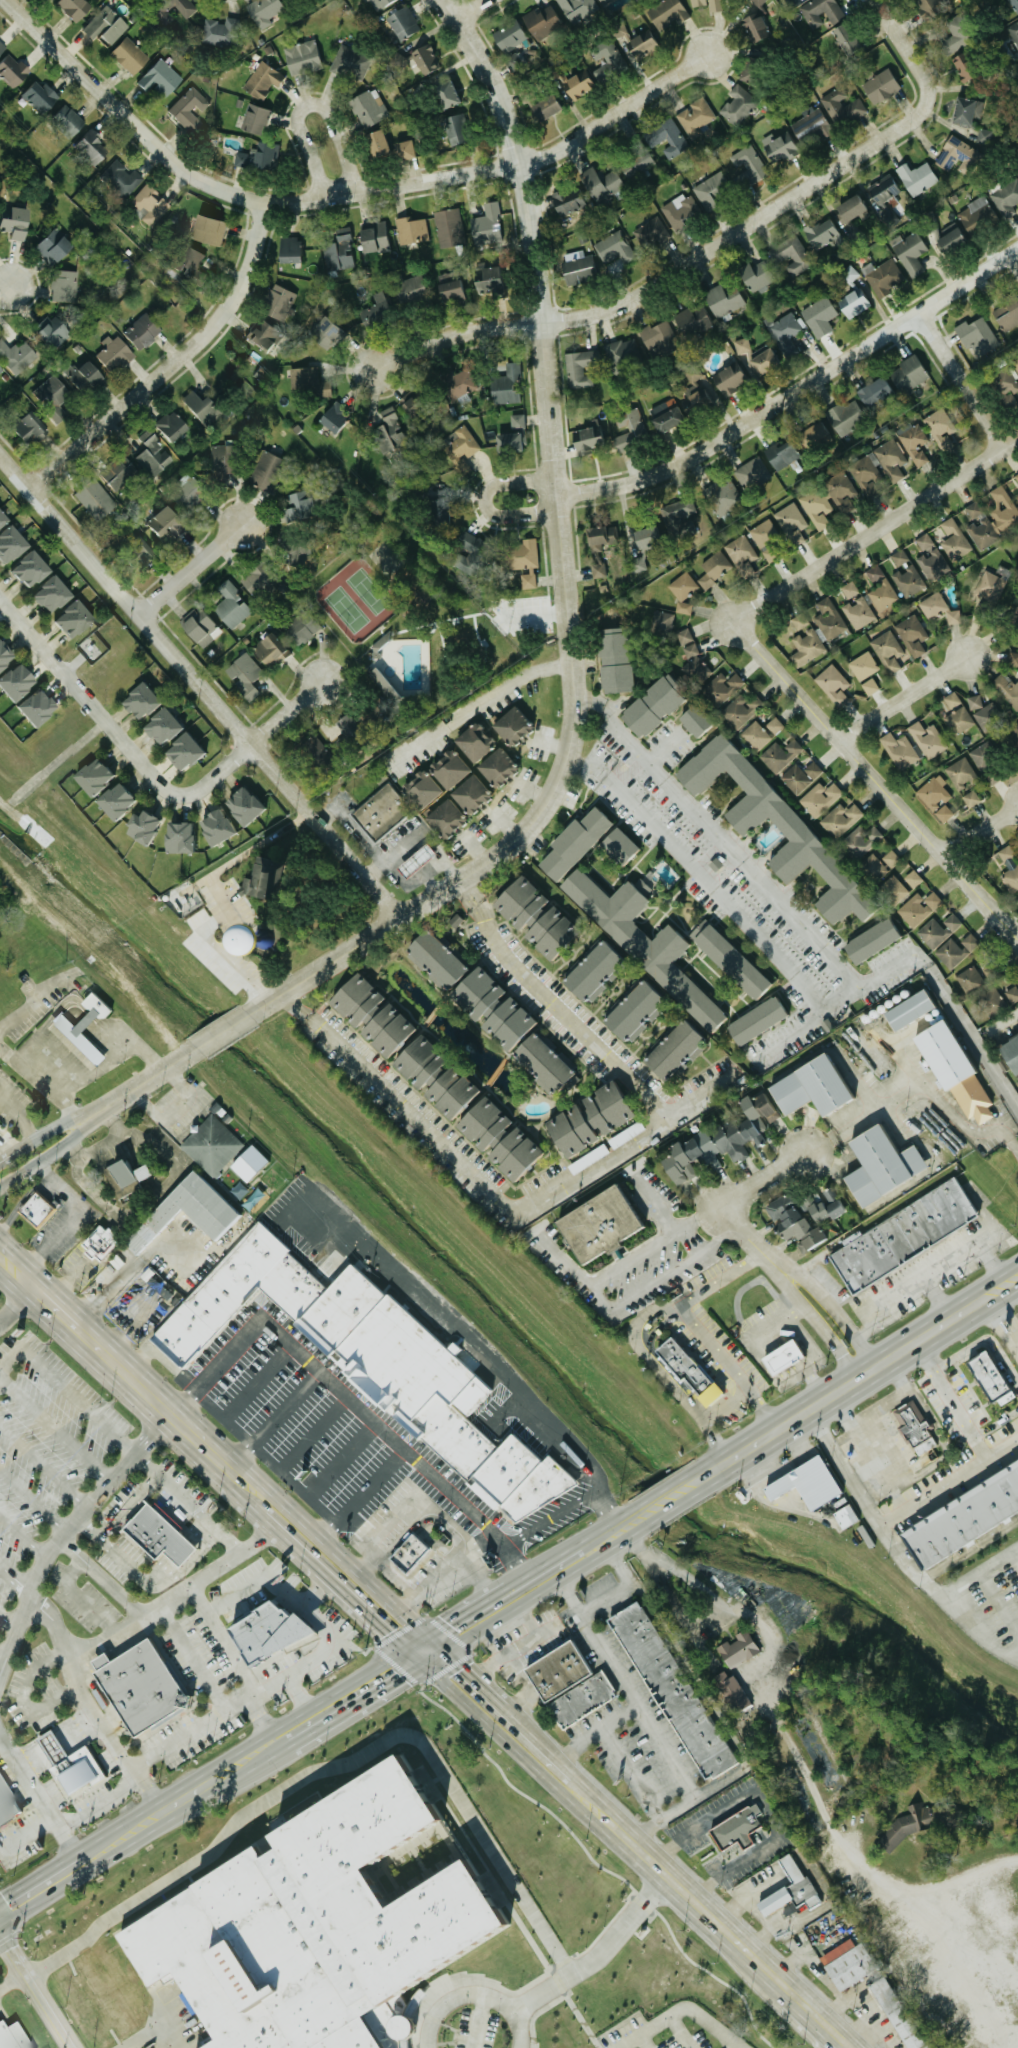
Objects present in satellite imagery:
building: (602, 1)
building: (756, 2)
building: (378, 3)
building: (709, 4)
building: (1011, 6)
building: (187, 7)
building: (929, 7)
building: (78, 8)
road: (468, 9)
building: (577, 9)
building: (267, 11)
building: (820, 12)
building: (666, 13)
building: (542, 22)
building: (403, 23)
building: (108, 26)
building: (756, 28)
building: (619, 30)
building: (221, 31)
building: (1011, 32)
building: (509, 36)
building: (844, 39)
building: (954, 42)
building: (640, 45)
building: (3, 48)
road: (905, 49)
building: (132, 57)
building: (306, 57)
building: (519, 58)
building: (423, 59)
building: (608, 61)
building: (351, 65)
building: (15, 71)
building: (163, 78)
building: (266, 80)
building: (577, 85)
building: (880, 86)
building: (445, 96)
building: (42, 97)
road: (309, 104)
building: (739, 105)
building: (842, 106)
building: (369, 108)
building: (544, 108)
building: (191, 109)
building: (966, 111)
building: (696, 116)
building: (259, 119)
building: (70, 122)
building: (810, 125)
building: (455, 129)
building: (668, 137)
building: (984, 137)
building: (376, 144)
building: (779, 146)
building: (94, 149)
building: (403, 150)
building: (956, 156)
building: (262, 157)
building: (637, 165)
building: (748, 165)
building: (917, 178)
building: (123, 179)
building: (601, 185)
building: (713, 189)
building: (883, 190)
road: (345, 193)
building: (1006, 196)
building: (151, 205)
building: (851, 209)
building: (680, 210)
building: (976, 214)
building: (18, 224)
building: (486, 226)
building: (449, 227)
building: (212, 230)
building: (411, 230)
building: (651, 232)
building: (822, 235)
building: (378, 238)
building: (949, 240)
building: (56, 248)
building: (614, 248)
building: (297, 251)
building: (342, 251)
building: (909, 251)
building: (792, 256)
building: (194, 258)
building: (576, 267)
road: (666, 274)
building: (883, 275)
building: (756, 276)
building: (486, 280)
building: (65, 286)
building: (408, 289)
road: (5, 290)
building: (449, 291)
building: (723, 300)
building: (282, 301)
building: (853, 302)
road: (536, 308)
building: (375, 310)
building: (1007, 314)
building: (819, 316)
building: (691, 320)
building: (55, 331)
building: (145, 331)
building: (324, 331)
building: (267, 335)
building: (977, 335)
building: (657, 336)
building: (786, 336)
building: (622, 352)
building: (117, 354)
building: (755, 356)
building: (16, 357)
building: (1016, 362)
road: (172, 363)
building: (580, 367)
building: (0, 372)
road: (967, 373)
building: (907, 374)
building: (89, 378)
building: (728, 379)
building: (308, 380)
building: (458, 382)
building: (506, 385)
building: (1006, 386)
building: (874, 391)
road: (795, 392)
building: (53, 397)
building: (699, 399)
building: (409, 405)
building: (199, 408)
building: (846, 416)
building: (333, 417)
building: (666, 418)
building: (168, 426)
building: (941, 428)
building: (25, 429)
building: (630, 429)
building: (388, 431)
building: (812, 434)
building: (513, 435)
building: (585, 439)
building: (914, 441)
building: (462, 448)
building: (150, 453)
building: (781, 454)
building: (891, 459)
building: (221, 460)
building: (265, 470)
building: (866, 471)
building: (117, 473)
building: (752, 473)
building: (1016, 477)
building: (841, 488)
building: (184, 495)
building: (723, 496)
building: (1017, 497)
building: (91, 498)
road: (484, 500)
building: (298, 503)
building: (817, 507)
building: (1002, 509)
building: (677, 513)
building: (792, 522)
building: (159, 523)
building: (981, 526)
building: (690, 527)
road: (873, 527)
building: (765, 533)
building: (643, 536)
building: (600, 537)
building: (954, 540)
building: (8, 541)
building: (468, 542)
building: (137, 550)
building: (742, 555)
building: (930, 556)
building: (899, 557)
building: (525, 561)
building: (637, 564)
building: (714, 568)
building: (25, 570)
road: (194, 572)
building: (254, 580)
building: (907, 580)
building: (989, 587)
building: (850, 590)
building: (881, 590)
building: (682, 591)
building: (46, 595)
building: (231, 606)
building: (940, 609)
building: (859, 613)
building: (1015, 615)
building: (67, 619)
building: (830, 620)
building: (661, 623)
park: (422, 626)
building: (304, 627)
building: (201, 628)
building: (913, 635)
building: (806, 641)
building: (269, 647)
building: (888, 650)
building: (3, 655)
building: (692, 657)
building: (1012, 658)
building: (612, 659)
building: (863, 665)
building: (245, 674)
building: (12, 682)
building: (383, 684)
building: (833, 684)
road: (201, 685)
building: (870, 686)
building: (722, 688)
building: (1007, 688)
road: (907, 696)
building: (952, 700)
building: (138, 701)
building: (975, 702)
road: (476, 704)
building: (651, 705)
building: (31, 707)
building: (741, 708)
road: (285, 713)
building: (988, 716)
building: (692, 720)
building: (959, 720)
building: (346, 722)
building: (510, 725)
building: (160, 726)
building: (1016, 732)
building: (762, 733)
building: (928, 739)
road: (115, 740)
building: (472, 741)
building: (313, 747)
road: (667, 749)
building: (900, 750)
building: (181, 751)
building: (985, 754)
building: (781, 755)
building: (495, 766)
building: (447, 768)
building: (961, 773)
building: (91, 776)
building: (801, 776)
road: (891, 782)
building: (421, 790)
building: (469, 794)
building: (933, 794)
building: (820, 799)
building: (971, 799)
building: (113, 800)
building: (241, 805)
building: (379, 812)
building: (944, 813)
building: (444, 818)
building: (841, 819)
building: (215, 825)
building: (790, 826)
road: (984, 826)
building: (141, 827)
building: (177, 837)
building: (862, 840)
building: (572, 842)
building: (617, 845)
building: (892, 858)
building: (414, 860)
road: (475, 867)
building: (874, 868)
building: (1010, 868)
building: (261, 879)
building: (914, 879)
building: (894, 890)
road: (662, 895)
building: (920, 908)
building: (531, 916)
road: (610, 918)
building: (453, 921)
road: (808, 927)
building: (938, 931)
building: (640, 939)
building: (870, 941)
building: (955, 951)
building: (432, 958)
building: (727, 959)
building: (589, 972)
building: (969, 978)
building: (999, 1000)
road: (558, 1001)
building: (490, 1007)
building: (906, 1010)
building: (630, 1011)
building: (369, 1015)
building: (755, 1020)
building: (89, 1027)
road: (221, 1030)
road: (998, 1030)
road: (133, 1036)
road: (106, 1038)
building: (670, 1050)
building: (1009, 1051)
building: (539, 1062)
building: (950, 1069)
road: (82, 1078)
building: (432, 1078)
road: (45, 1079)
road: (136, 1085)
building: (808, 1087)
road: (929, 1092)
road: (19, 1113)
building: (587, 1119)
road: (36, 1135)
building: (719, 1139)
building: (497, 1140)
building: (216, 1146)
road: (42, 1157)
building: (255, 1164)
road: (786, 1165)
building: (878, 1165)
building: (132, 1175)
road: (84, 1182)
road: (564, 1182)
building: (822, 1205)
building: (41, 1208)
building: (193, 1213)
road: (74, 1218)
building: (791, 1222)
building: (594, 1225)
road: (669, 1227)
building: (901, 1235)
road: (985, 1240)
road: (667, 1241)
building: (105, 1243)
road: (992, 1265)
road: (131, 1272)
road: (16, 1273)
road: (586, 1277)
road: (668, 1277)
road: (1011, 1281)
road: (1016, 1283)
road: (804, 1286)
road: (913, 1290)
road: (996, 1291)
road: (939, 1300)
road: (16, 1301)
road: (53, 1308)
road: (646, 1312)
road: (1003, 1322)
road: (479, 1351)
building: (780, 1358)
building: (379, 1361)
road: (728, 1362)
building: (685, 1371)
building: (988, 1379)
road: (844, 1388)
road: (68, 1392)
road: (893, 1402)
road: (951, 1402)
road: (725, 1407)
road: (274, 1421)
building: (914, 1428)
road: (54, 1431)
road: (713, 1443)
road: (209, 1453)
road: (868, 1456)
road: (420, 1461)
road: (43, 1467)
road: (847, 1470)
building: (807, 1483)
road: (951, 1485)
road: (670, 1498)
road: (359, 1499)
road: (33, 1500)
road: (411, 1501)
road: (187, 1502)
road: (127, 1506)
road: (556, 1516)
building: (962, 1518)
road: (636, 1519)
road: (630, 1523)
road: (64, 1531)
road: (199, 1531)
road: (600, 1531)
road: (24, 1537)
road: (105, 1544)
road: (181, 1550)
building: (415, 1553)
road: (453, 1556)
road: (538, 1563)
road: (981, 1567)
road: (945, 1570)
road: (392, 1576)
road: (100, 1577)
road: (623, 1578)
road: (16, 1579)
road: (154, 1579)
road: (277, 1585)
road: (931, 1586)
road: (177, 1590)
road: (533, 1594)
road: (724, 1609)
road: (457, 1613)
road: (682, 1615)
road: (389, 1619)
road: (8, 1623)
road: (975, 1632)
building: (280, 1634)
road: (221, 1635)
traffic signals: (415, 1642)
road: (599, 1642)
building: (739, 1649)
road: (322, 1655)
road: (188, 1656)
road: (3, 1657)
traffic signals: (435, 1660)
building: (558, 1670)
road: (390, 1686)
building: (149, 1687)
road: (300, 1691)
building: (672, 1691)
building: (732, 1692)
building: (582, 1700)
road: (85, 1702)
road: (254, 1715)
road: (187, 1727)
road: (77, 1732)
road: (593, 1733)
road: (51, 1748)
road: (667, 1749)
road: (242, 1751)
road: (30, 1761)
building: (77, 1764)
road: (645, 1785)
road: (766, 1795)
road: (36, 1797)
building: (9, 1802)
road: (172, 1820)
building: (909, 1824)
building: (737, 1828)
road: (25, 1835)
road: (640, 1853)
road: (857, 1860)
road: (34, 1878)
building: (791, 1890)
building: (1014, 1891)
building: (318, 1926)
road: (597, 1952)
building: (846, 1963)
road: (12, 1982)
road: (473, 1989)
road: (35, 1991)
road: (683, 2011)
road: (150, 2023)
parking lot: (670, 2030)
road: (171, 2032)
building: (6, 2037)
road: (1015, 2045)

